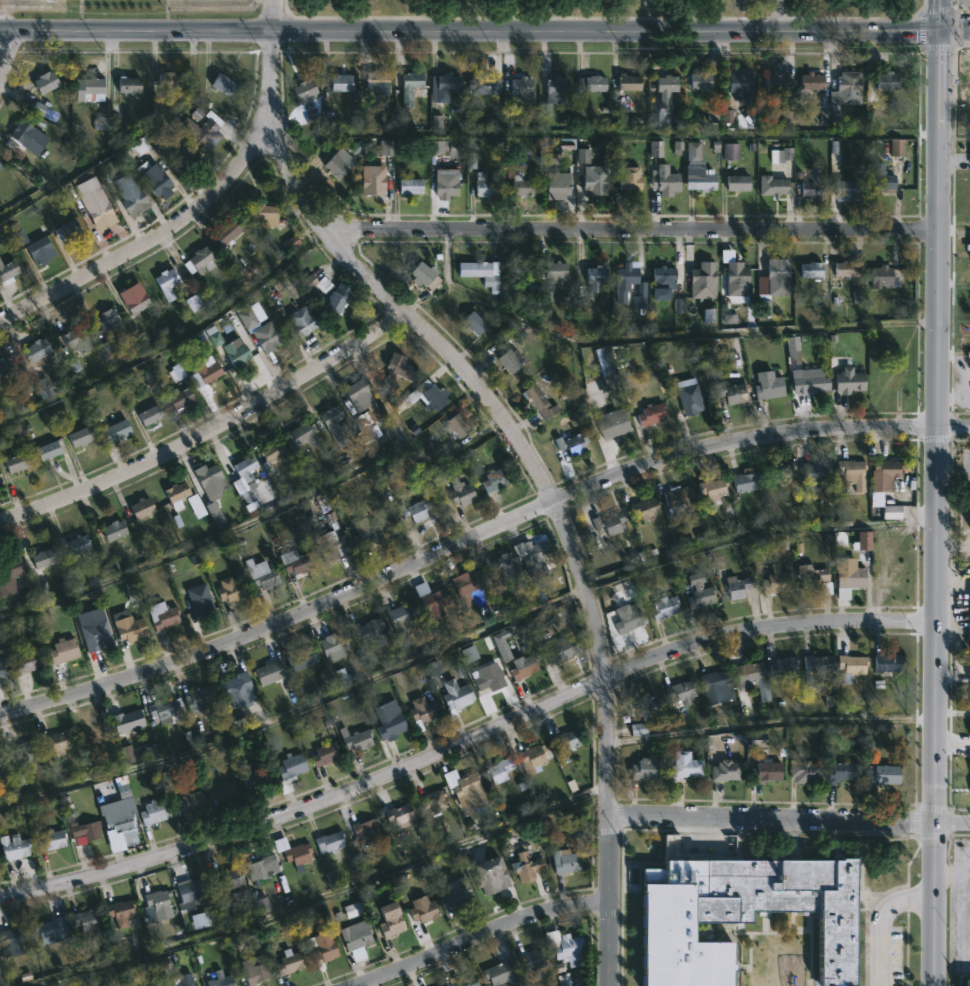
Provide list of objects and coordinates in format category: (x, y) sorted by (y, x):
building: (50, 0)
parking lot: (212, 5)
park: (602, 5)
park: (612, 5)
road: (937, 9)
road: (4, 15)
road: (782, 15)
road: (954, 27)
road: (954, 27)
road: (919, 28)
road: (469, 30)
traffic signals: (939, 30)
road: (937, 47)
road: (8, 55)
building: (167, 80)
building: (700, 80)
building: (44, 81)
building: (811, 81)
building: (887, 81)
building: (340, 82)
building: (375, 82)
building: (627, 82)
building: (776, 82)
building: (447, 83)
building: (590, 83)
building: (666, 83)
building: (127, 84)
building: (222, 84)
building: (406, 84)
building: (483, 84)
building: (92, 85)
building: (740, 85)
building: (520, 86)
building: (303, 89)
building: (848, 89)
building: (553, 93)
building: (655, 114)
building: (198, 129)
building: (331, 129)
building: (19, 136)
building: (969, 151)
building: (694, 153)
building: (182, 155)
building: (335, 167)
building: (0, 168)
building: (882, 177)
building: (152, 178)
building: (629, 179)
building: (664, 180)
building: (700, 180)
building: (593, 181)
building: (372, 182)
building: (737, 184)
building: (812, 184)
building: (446, 185)
building: (483, 185)
building: (409, 186)
building: (520, 186)
building: (558, 186)
building: (773, 186)
building: (126, 187)
building: (846, 190)
building: (98, 213)
building: (262, 214)
building: (66, 229)
road: (629, 229)
building: (227, 230)
road: (156, 235)
building: (36, 247)
building: (969, 248)
building: (197, 260)
building: (845, 268)
building: (521, 270)
building: (810, 270)
building: (554, 271)
building: (7, 272)
building: (422, 273)
building: (480, 273)
building: (736, 275)
building: (595, 277)
building: (777, 278)
building: (882, 278)
building: (703, 280)
building: (315, 282)
building: (662, 282)
building: (165, 283)
building: (622, 287)
building: (336, 300)
building: (135, 303)
building: (107, 320)
building: (300, 322)
building: (473, 323)
building: (266, 337)
building: (74, 340)
building: (35, 350)
building: (235, 354)
building: (509, 361)
building: (5, 365)
building: (399, 366)
building: (205, 373)
building: (850, 381)
road: (963, 381)
building: (808, 384)
building: (768, 386)
building: (729, 392)
building: (426, 394)
building: (178, 398)
building: (690, 400)
road: (966, 401)
building: (539, 403)
building: (373, 410)
building: (650, 414)
building: (149, 415)
building: (611, 423)
building: (332, 425)
building: (457, 425)
road: (952, 427)
road: (211, 430)
building: (115, 431)
building: (299, 436)
building: (571, 443)
building: (48, 449)
building: (270, 451)
road: (525, 455)
building: (14, 463)
building: (244, 468)
building: (850, 472)
building: (815, 473)
building: (780, 474)
building: (889, 474)
building: (493, 480)
building: (746, 480)
building: (212, 488)
building: (712, 489)
building: (460, 492)
road: (935, 492)
building: (177, 494)
building: (678, 501)
building: (196, 508)
building: (645, 508)
building: (141, 509)
building: (411, 511)
building: (969, 514)
road: (249, 521)
building: (609, 523)
building: (112, 531)
building: (365, 532)
building: (77, 545)
road: (462, 545)
building: (328, 547)
building: (532, 555)
building: (41, 558)
building: (295, 564)
building: (508, 573)
building: (8, 574)
building: (259, 576)
building: (814, 579)
building: (887, 579)
building: (775, 581)
building: (849, 581)
building: (738, 587)
building: (469, 589)
building: (228, 591)
building: (698, 592)
building: (432, 601)
building: (199, 607)
building: (664, 608)
building: (161, 616)
building: (402, 616)
building: (626, 619)
building: (127, 626)
building: (366, 630)
building: (95, 635)
building: (334, 643)
building: (64, 650)
building: (558, 650)
building: (300, 657)
building: (28, 661)
building: (852, 664)
building: (887, 664)
building: (2, 667)
building: (523, 667)
building: (782, 667)
building: (815, 668)
building: (268, 671)
building: (969, 676)
building: (752, 678)
building: (488, 679)
building: (714, 687)
building: (236, 690)
building: (680, 693)
building: (454, 696)
building: (197, 698)
building: (645, 706)
road: (297, 709)
building: (162, 710)
building: (420, 711)
building: (126, 719)
building: (389, 720)
building: (357, 739)
road: (466, 741)
building: (565, 741)
building: (54, 743)
building: (324, 753)
building: (21, 754)
building: (532, 756)
building: (0, 763)
building: (684, 765)
building: (290, 766)
building: (500, 769)
building: (645, 770)
building: (802, 771)
building: (727, 772)
building: (765, 772)
building: (843, 773)
building: (883, 776)
building: (256, 778)
building: (464, 786)
building: (222, 791)
building: (434, 799)
building: (187, 801)
building: (153, 811)
road: (772, 817)
building: (399, 818)
road: (952, 822)
building: (117, 826)
building: (365, 827)
building: (83, 832)
building: (51, 839)
building: (329, 842)
building: (13, 847)
building: (292, 851)
building: (565, 861)
building: (528, 865)
building: (260, 866)
building: (492, 874)
building: (228, 878)
building: (189, 891)
building: (454, 893)
road: (319, 900)
building: (158, 903)
building: (422, 909)
building: (119, 911)
building: (738, 913)
building: (390, 919)
building: (83, 921)
road: (879, 921)
building: (46, 928)
building: (356, 935)
road: (483, 935)
building: (12, 936)
building: (323, 946)
building: (570, 949)
building: (531, 958)
building: (289, 961)
building: (254, 969)
building: (502, 973)
building: (183, 979)
building: (221, 979)
building: (463, 981)
building: (968, 982)
building: (154, 985)

